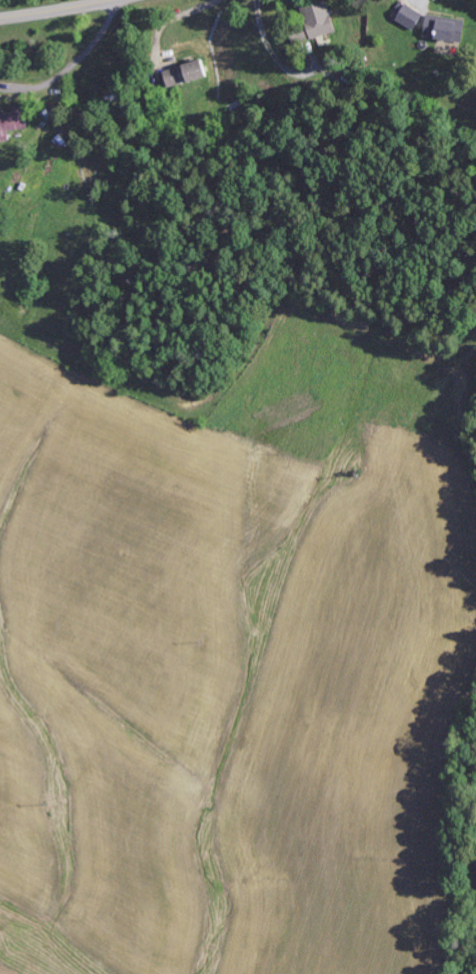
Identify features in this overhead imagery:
road: (55, 10)
building: (413, 17)
building: (317, 24)
building: (448, 29)
building: (189, 74)
building: (13, 123)

